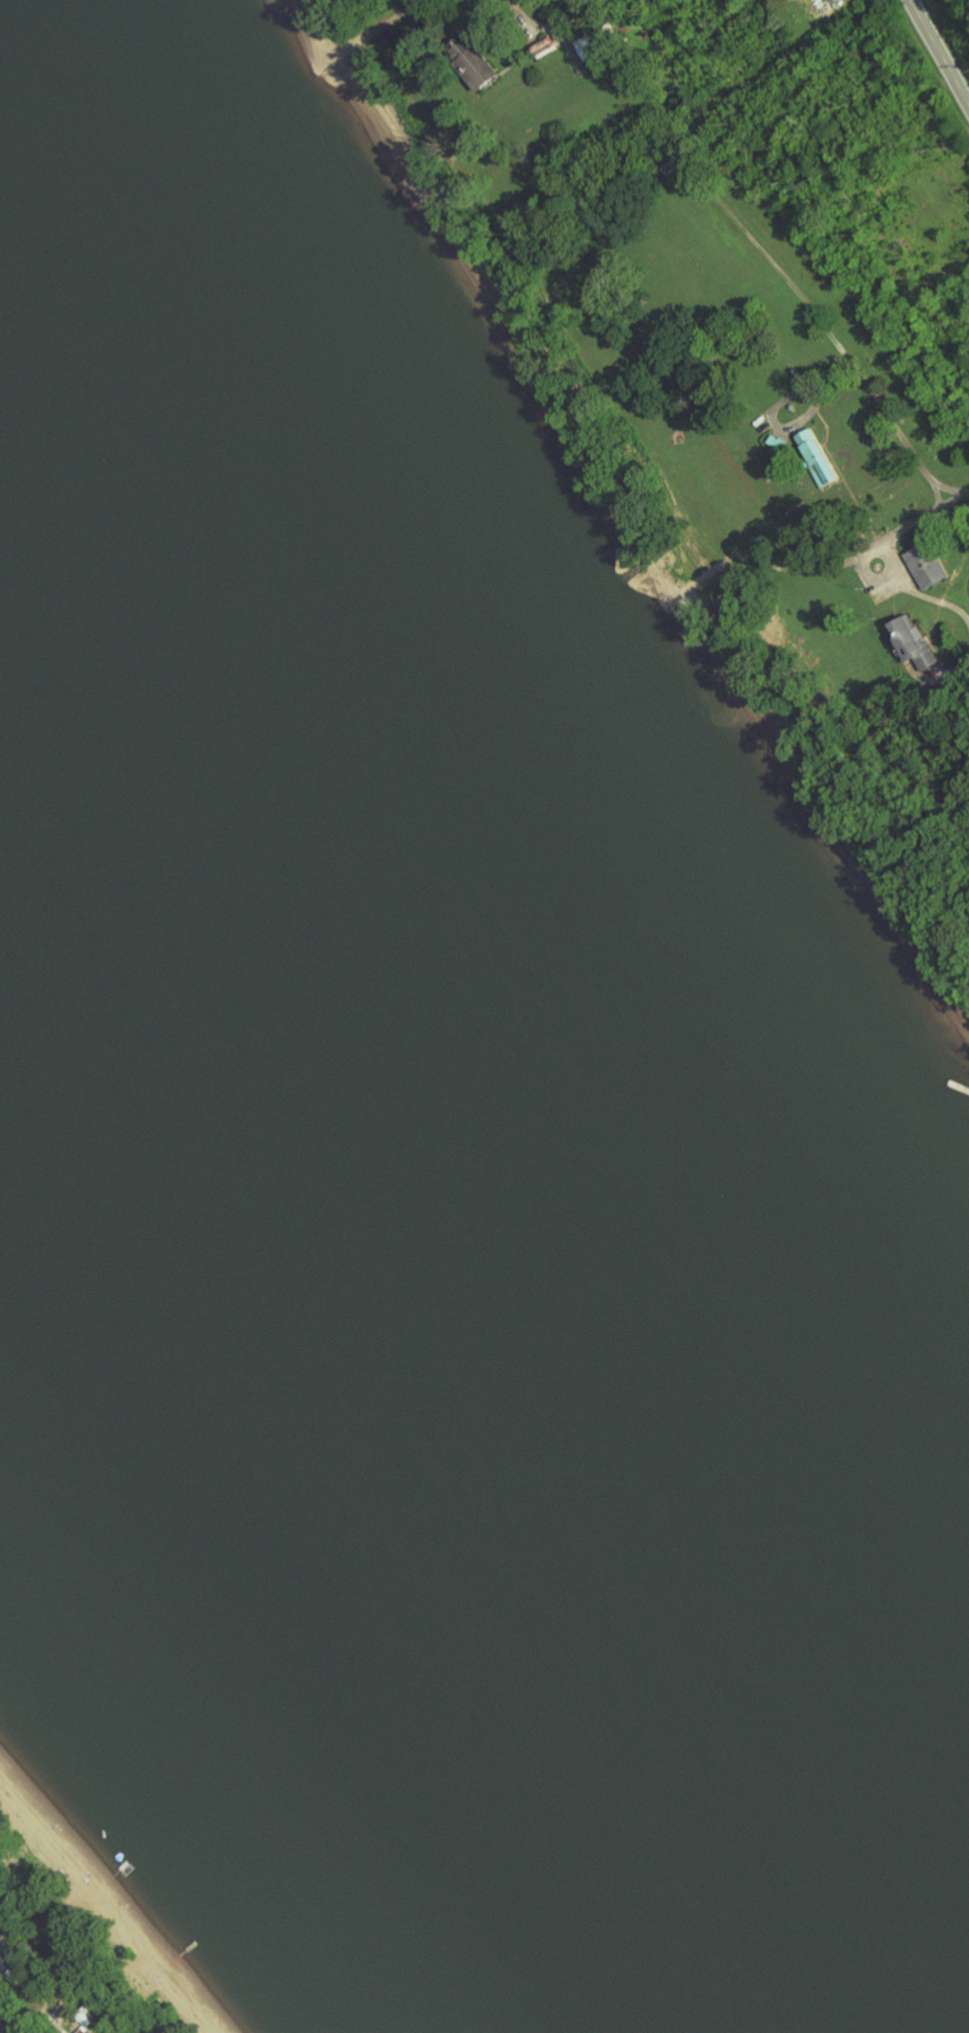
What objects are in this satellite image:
building: (832, 0)
road: (522, 14)
building: (543, 46)
building: (588, 47)
road: (937, 54)
building: (471, 61)
building: (672, 160)
road: (824, 323)
building: (775, 441)
building: (816, 456)
road: (937, 482)
road: (914, 519)
building: (926, 564)
road: (905, 587)
building: (913, 641)
river: (460, 1510)
road: (16, 2013)

